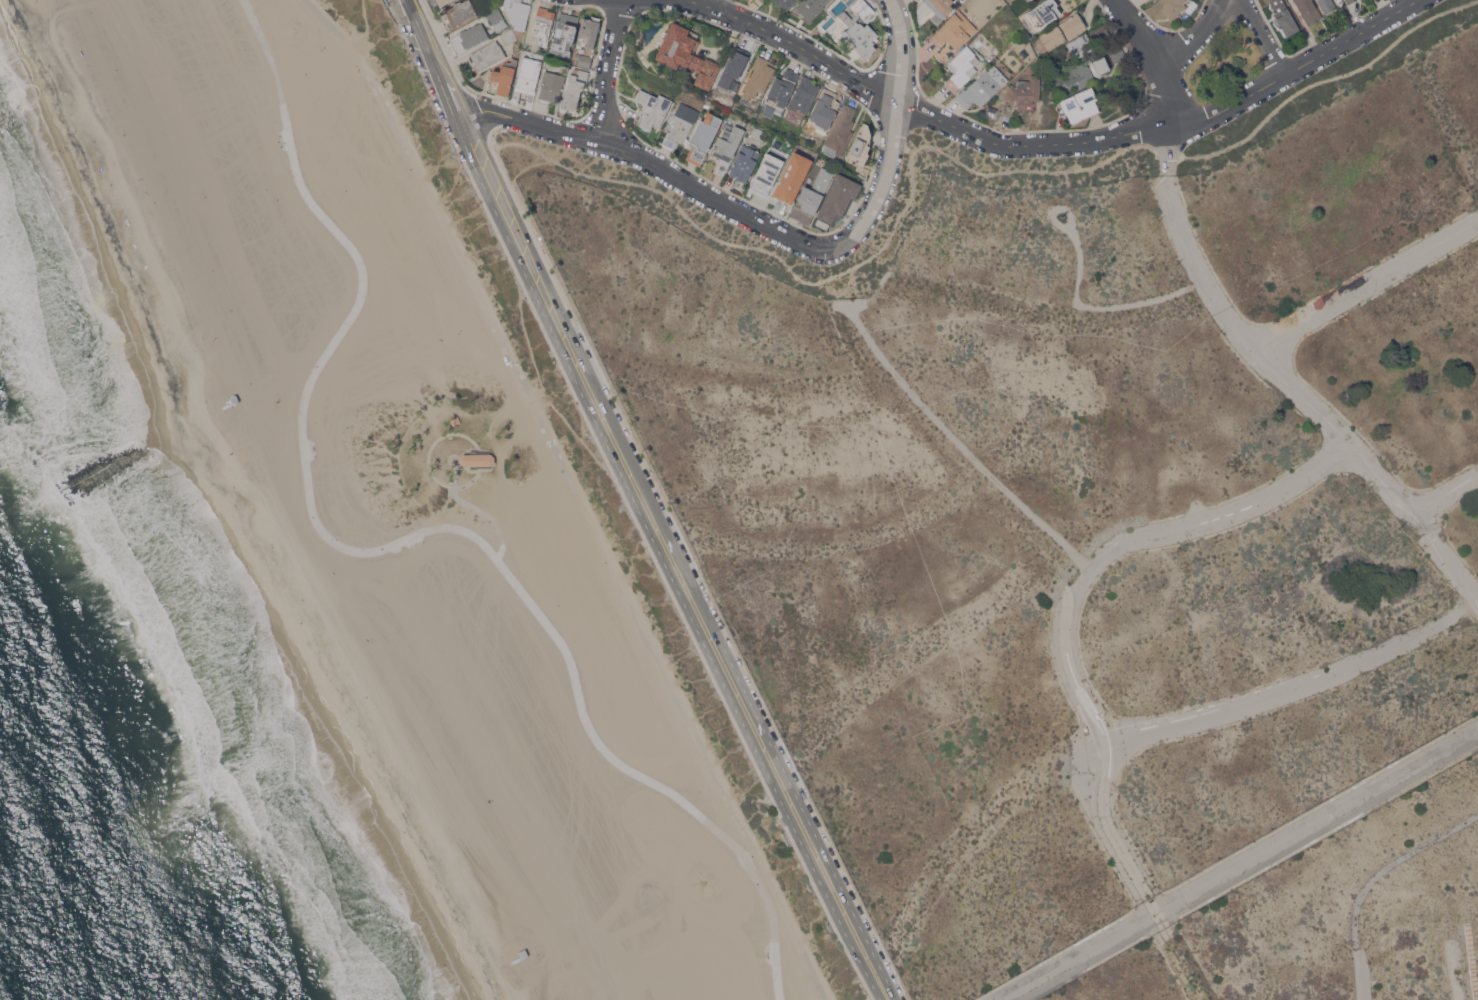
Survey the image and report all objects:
building: (1026, 0)
building: (1349, 1)
building: (443, 2)
building: (785, 3)
road: (726, 5)
building: (1327, 5)
building: (940, 6)
building: (811, 7)
building: (1169, 7)
building: (862, 9)
building: (1308, 10)
building: (517, 12)
building: (458, 13)
building: (1041, 13)
building: (1283, 17)
building: (497, 19)
building: (543, 22)
road: (365, 27)
road: (1134, 29)
building: (954, 30)
building: (1062, 30)
building: (564, 32)
building: (588, 32)
road: (1264, 34)
building: (469, 36)
building: (508, 36)
building: (1103, 36)
building: (861, 37)
building: (1080, 45)
building: (1062, 48)
road: (1167, 52)
building: (686, 53)
building: (1116, 53)
building: (487, 55)
road: (432, 59)
building: (584, 59)
park: (1226, 63)
building: (961, 68)
road: (609, 69)
building: (734, 69)
building: (1078, 76)
building: (504, 77)
building: (528, 77)
building: (756, 83)
building: (552, 85)
building: (982, 87)
building: (574, 88)
building: (780, 92)
building: (1026, 92)
building: (804, 95)
building: (1080, 104)
building: (651, 108)
building: (824, 110)
building: (992, 112)
building: (681, 124)
building: (840, 131)
building: (759, 133)
road: (895, 134)
building: (703, 137)
road: (1054, 142)
building: (727, 145)
building: (860, 146)
road: (1168, 150)
road: (949, 155)
road: (650, 162)
building: (745, 162)
park: (986, 164)
building: (766, 173)
building: (792, 176)
building: (811, 196)
building: (838, 198)
road: (1077, 264)
road: (1366, 287)
road: (1142, 303)
road: (525, 334)
building: (270, 391)
road: (1302, 398)
road: (531, 401)
building: (454, 420)
road: (579, 439)
road: (619, 452)
building: (476, 459)
road: (427, 460)
road: (577, 493)
road: (1446, 495)
road: (477, 510)
road: (1223, 518)
road: (398, 542)
road: (693, 568)
road: (1087, 570)
road: (1297, 689)
building: (689, 850)
road: (1239, 864)
road: (1371, 880)
road: (830, 885)
road: (1452, 973)
road: (884, 992)

